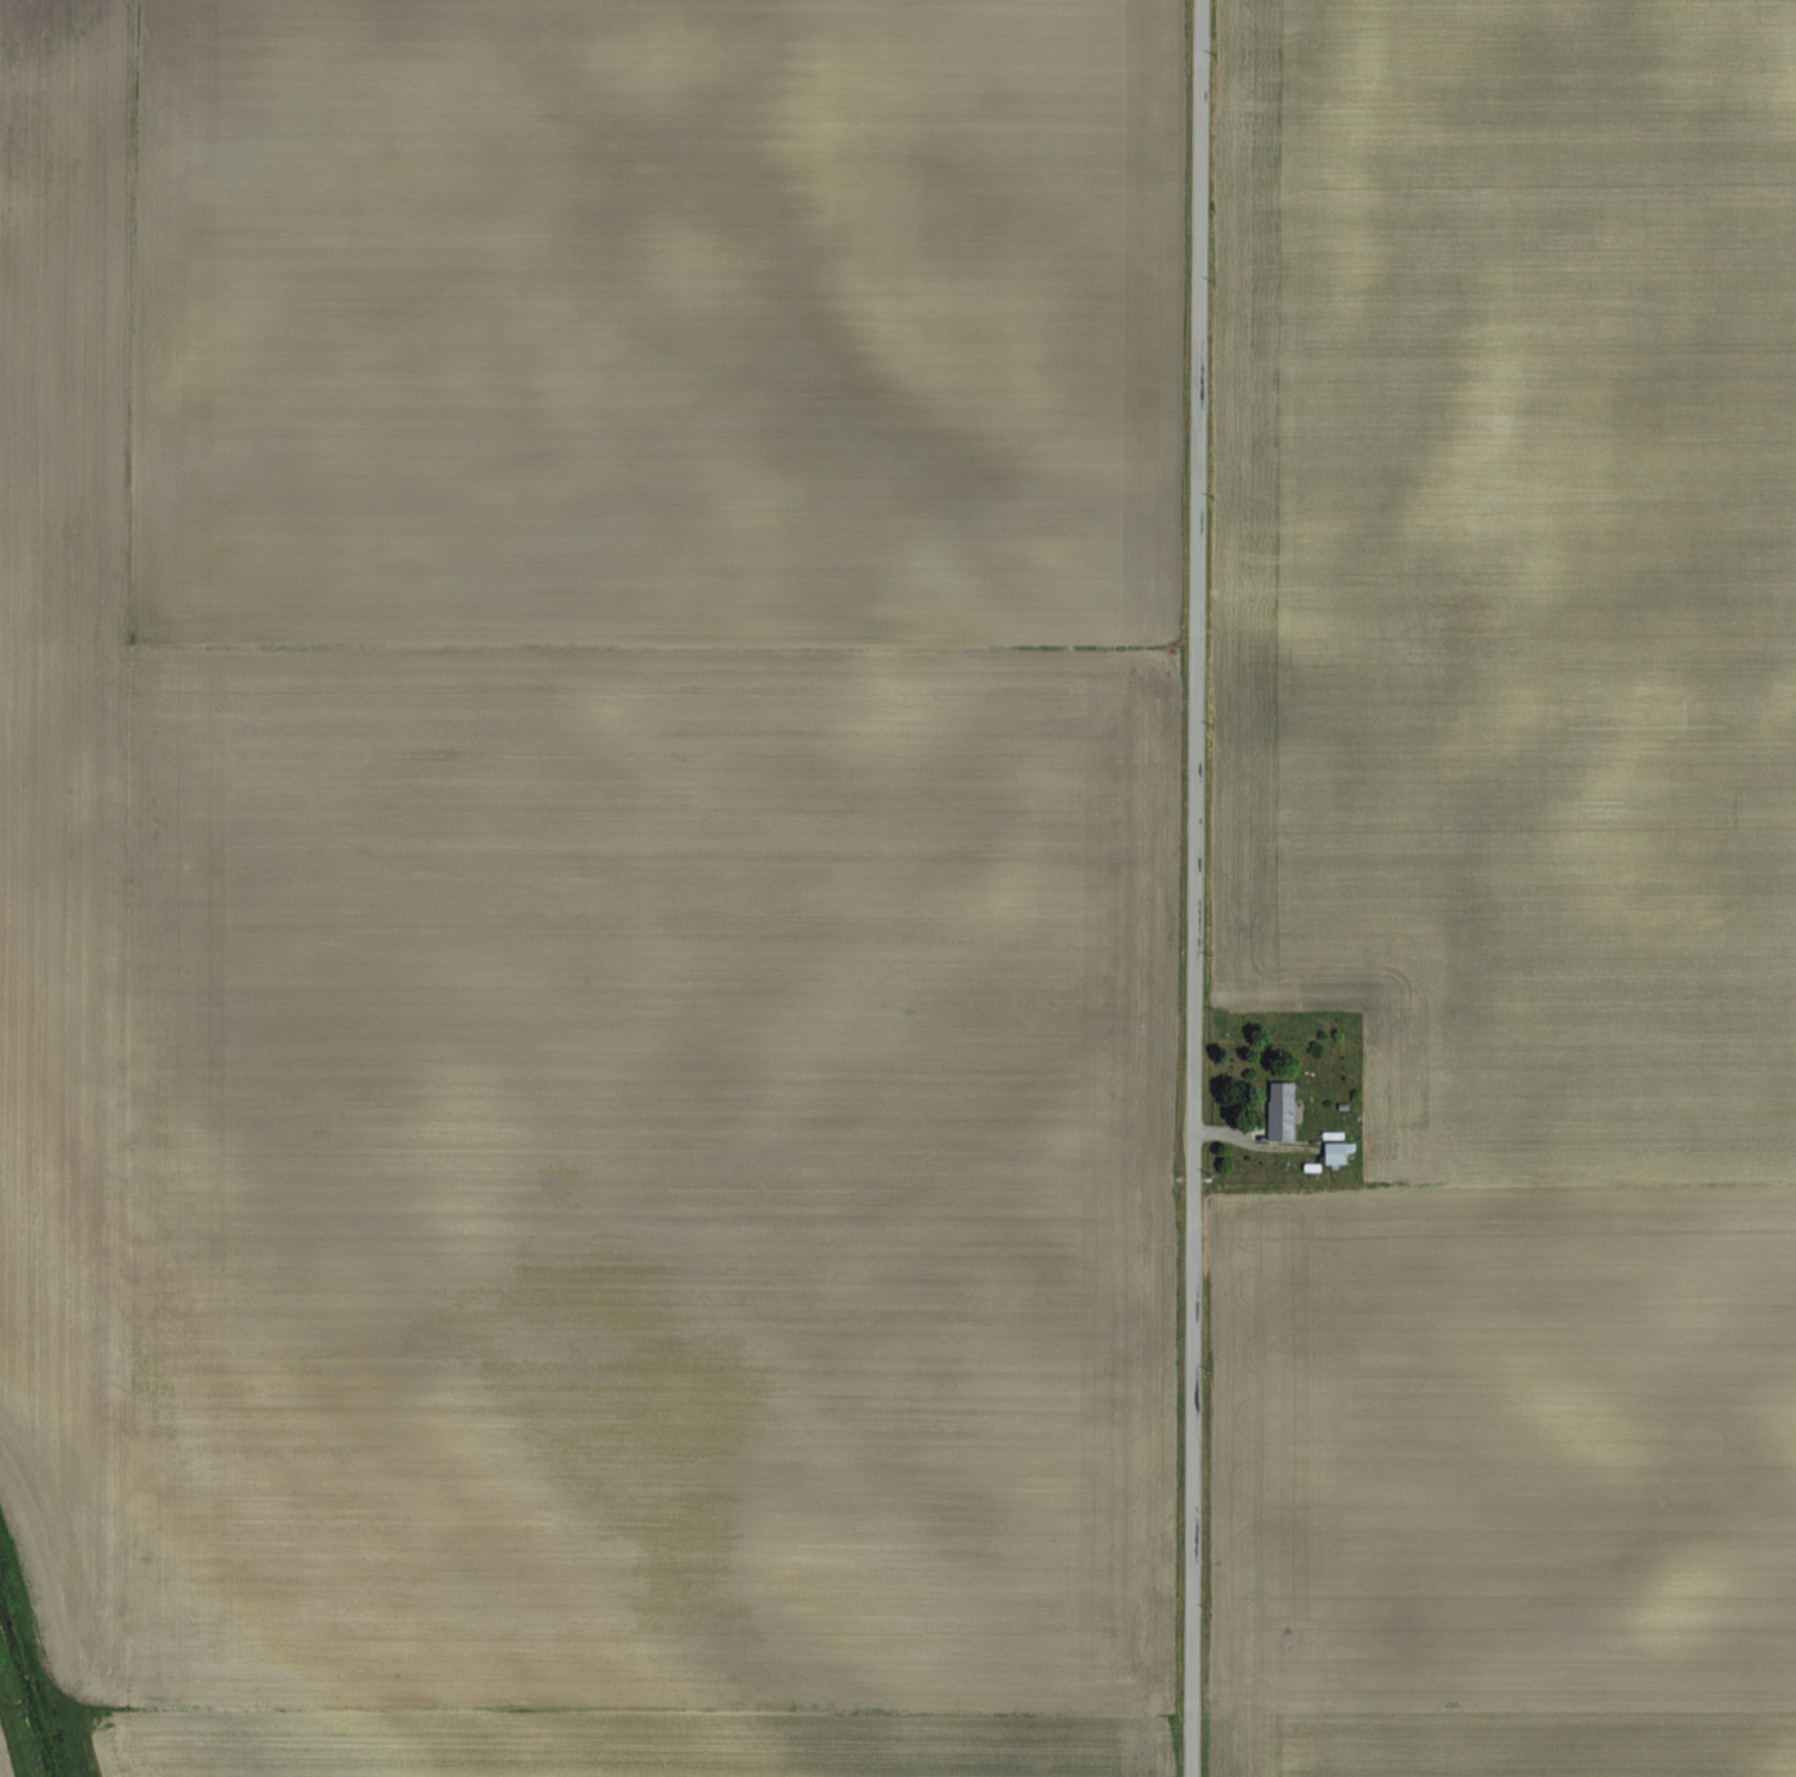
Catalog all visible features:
road: (1190, 888)
building: (1280, 1107)

